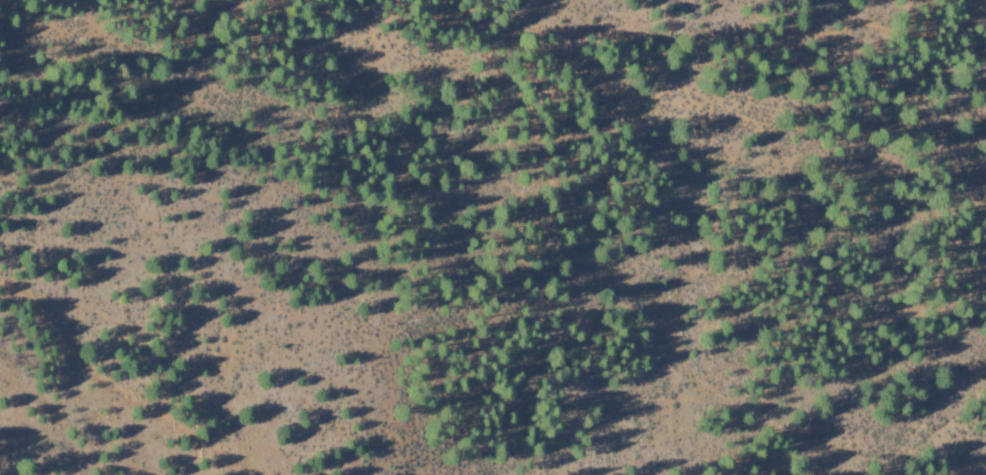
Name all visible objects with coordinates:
road: (723, 28)

